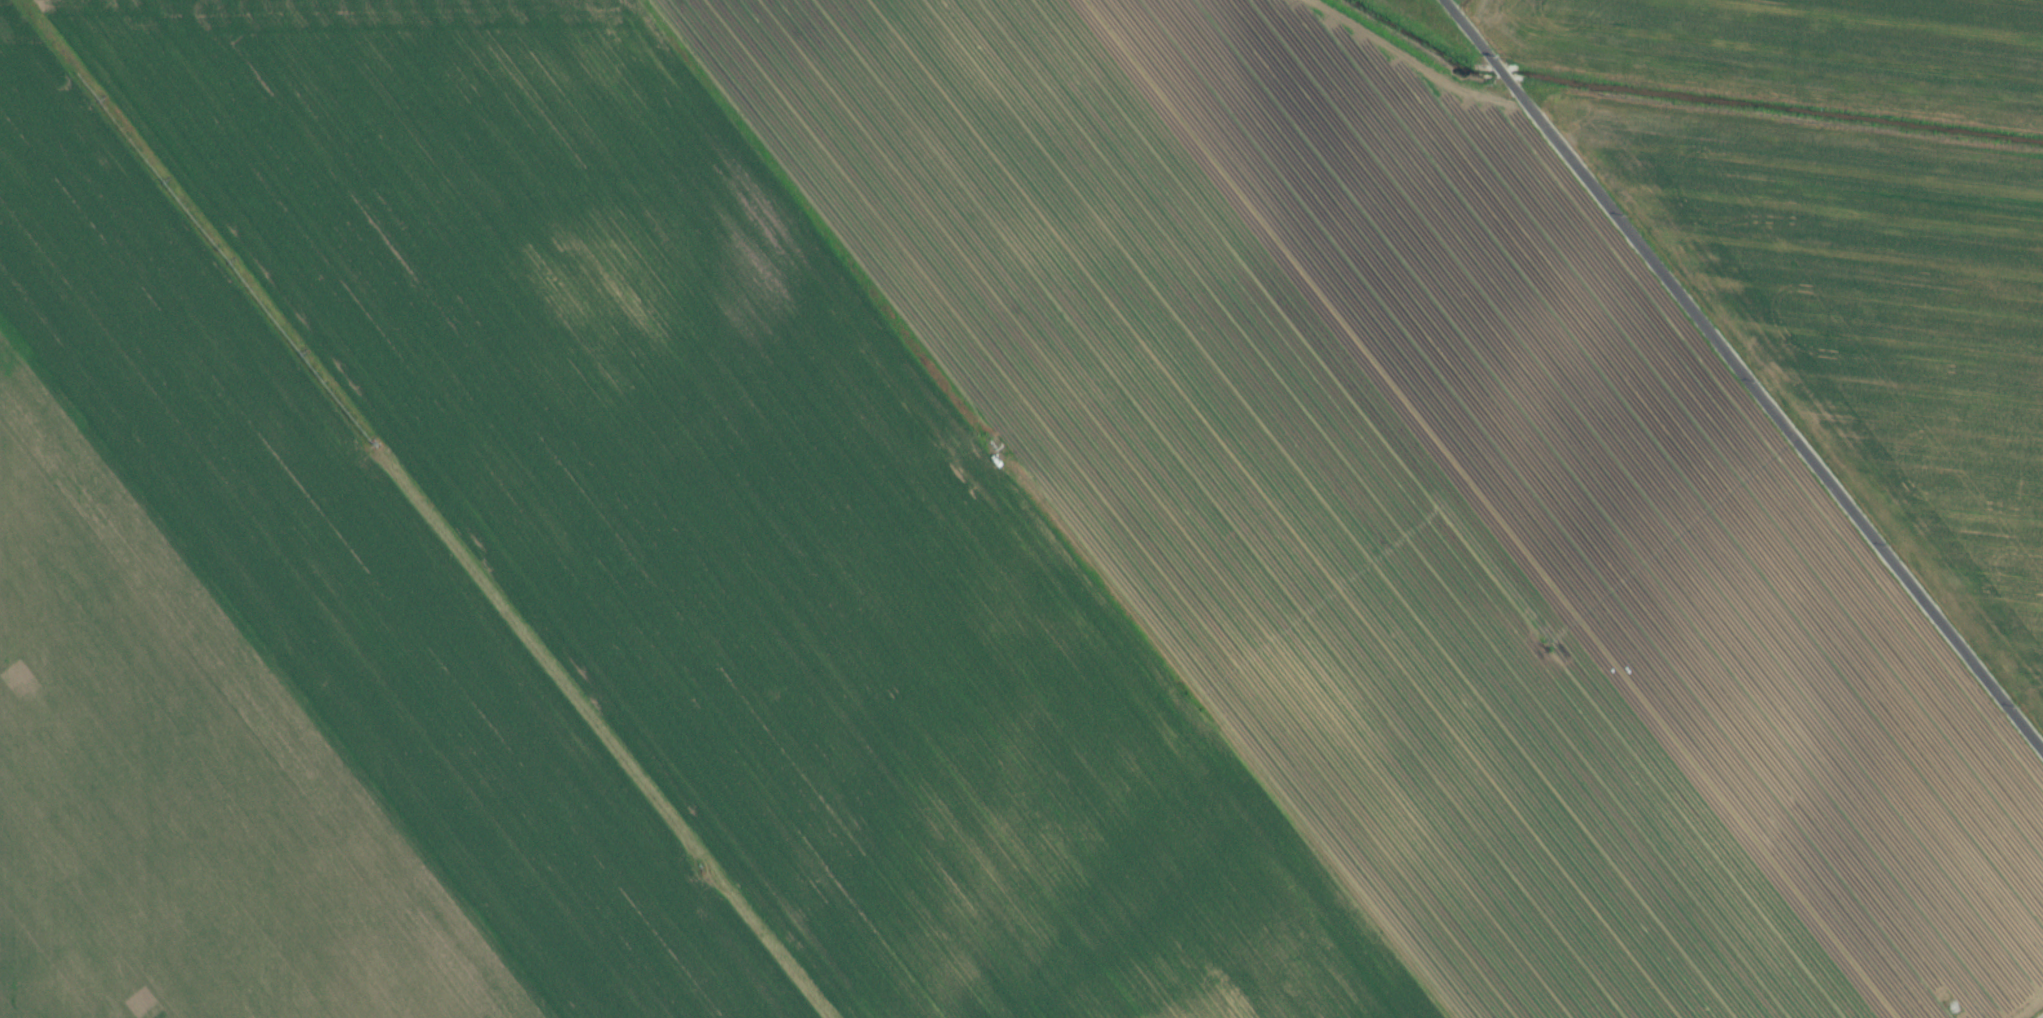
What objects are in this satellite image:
road: (1751, 369)

